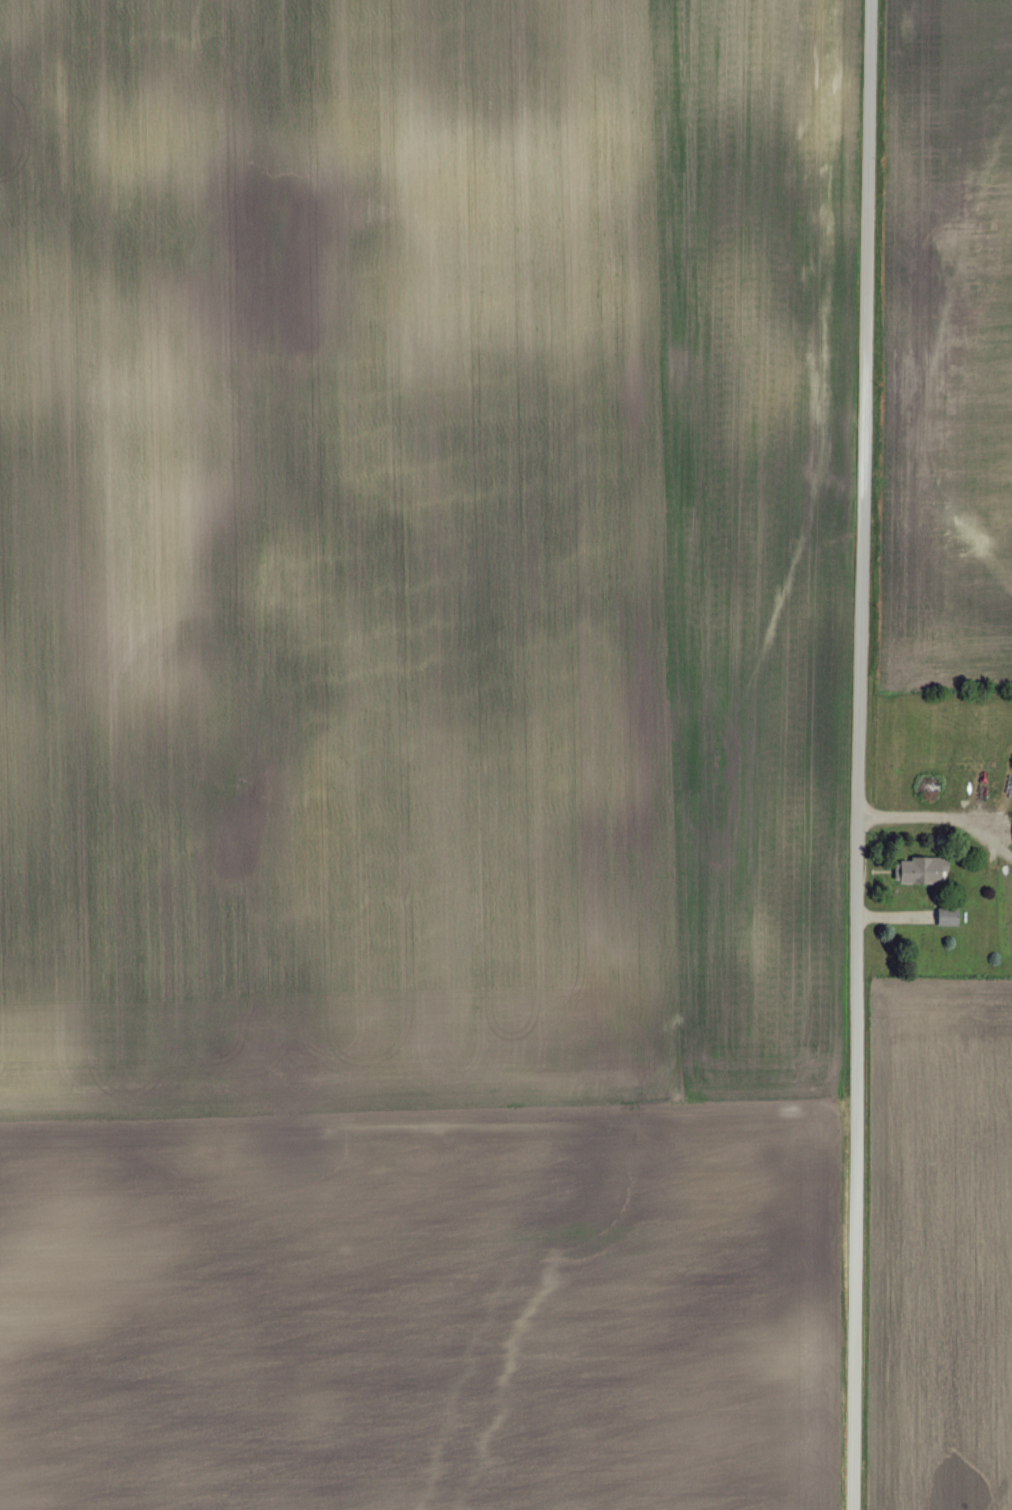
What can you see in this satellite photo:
crop: (422, 751)
road: (861, 754)
road: (925, 820)
building: (1011, 837)

